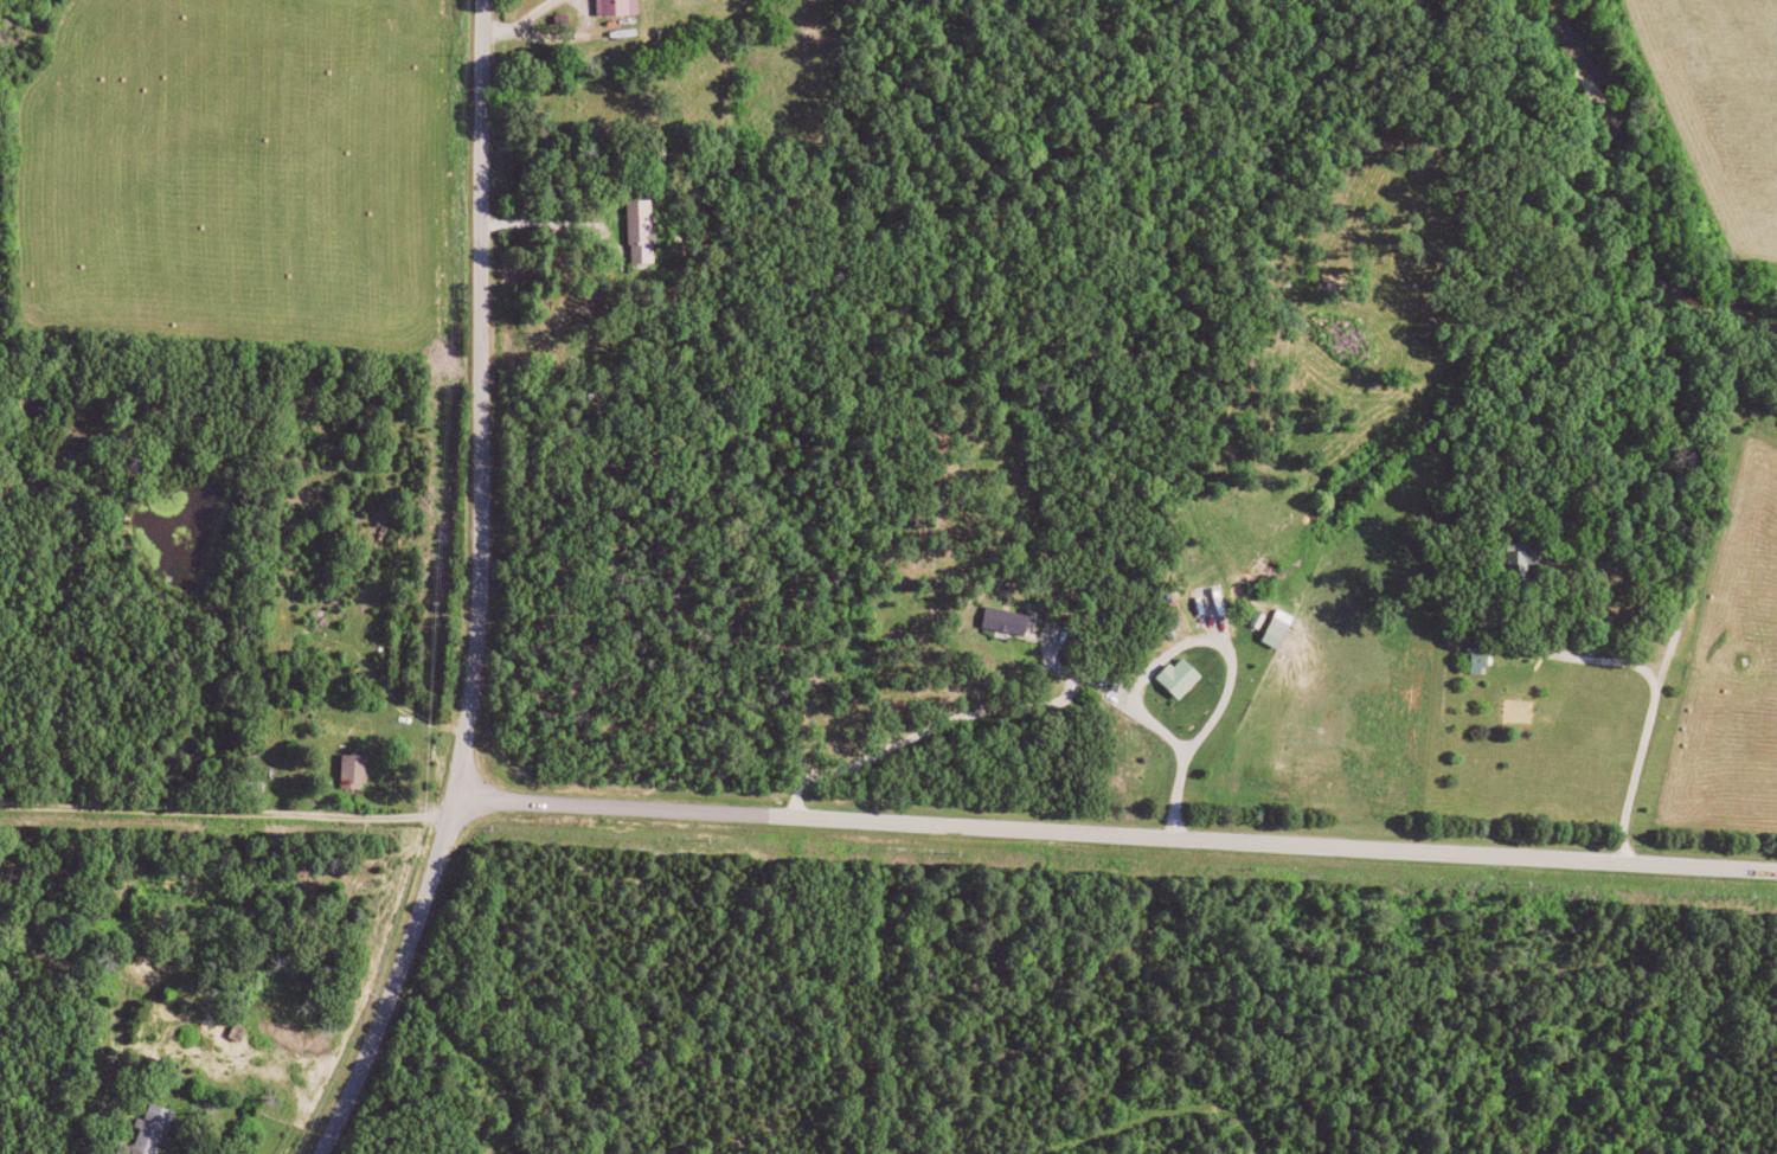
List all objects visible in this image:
building: (622, 6)
road: (554, 222)
building: (646, 222)
building: (1527, 559)
road: (476, 589)
building: (1011, 620)
building: (1176, 624)
building: (1284, 627)
building: (1185, 677)
building: (359, 768)
road: (1115, 831)
building: (156, 1128)

